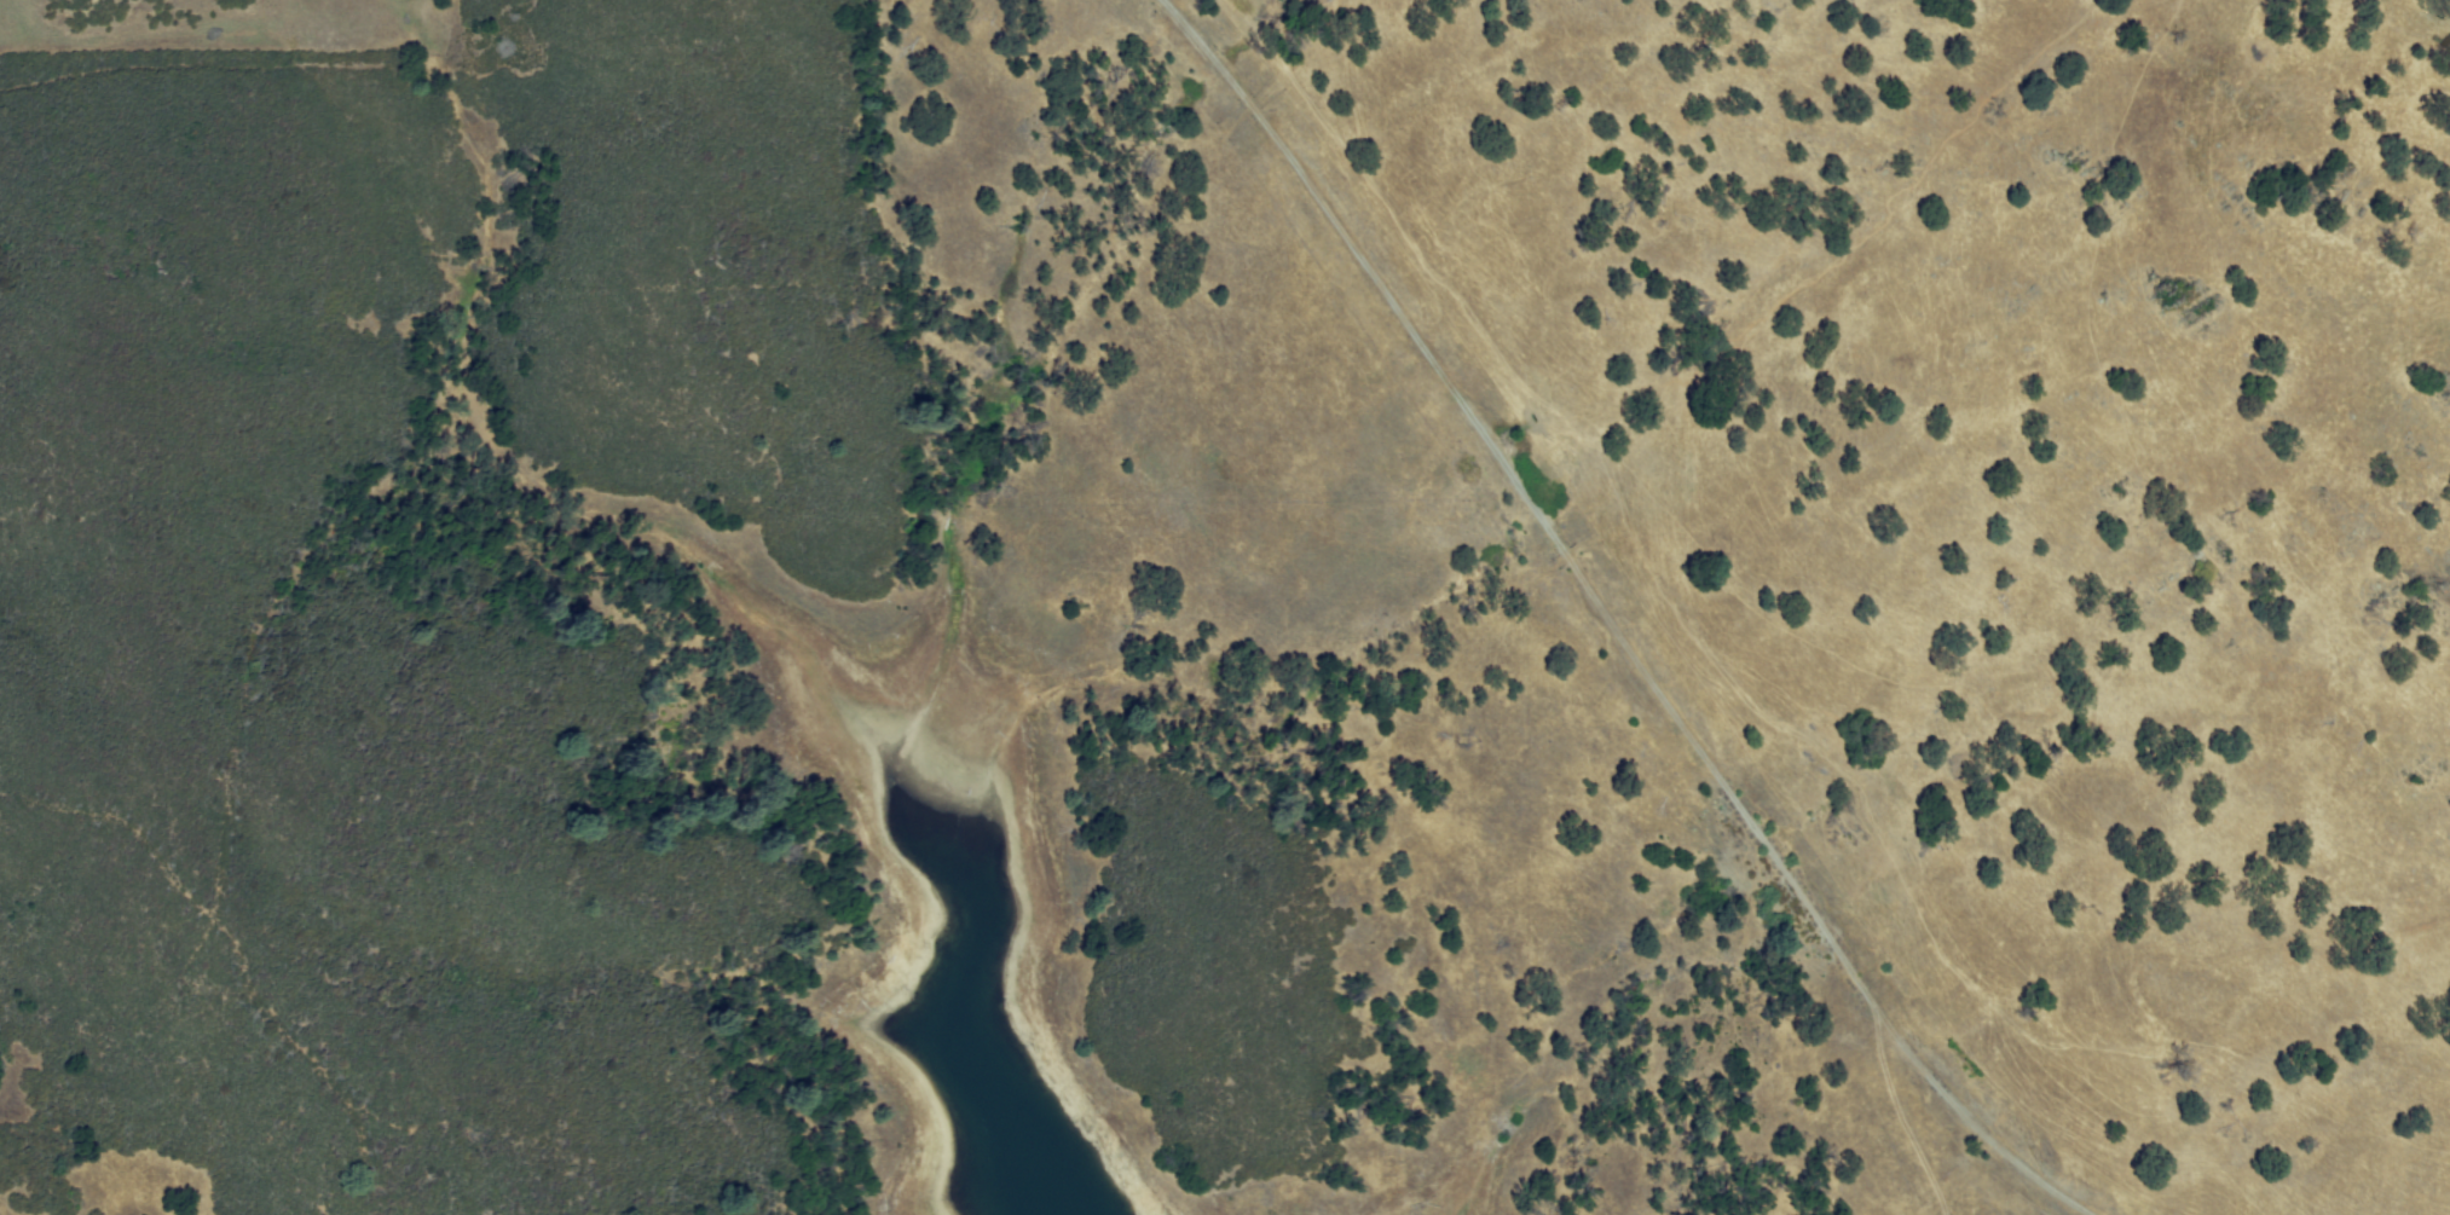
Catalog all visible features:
road: (1622, 624)

